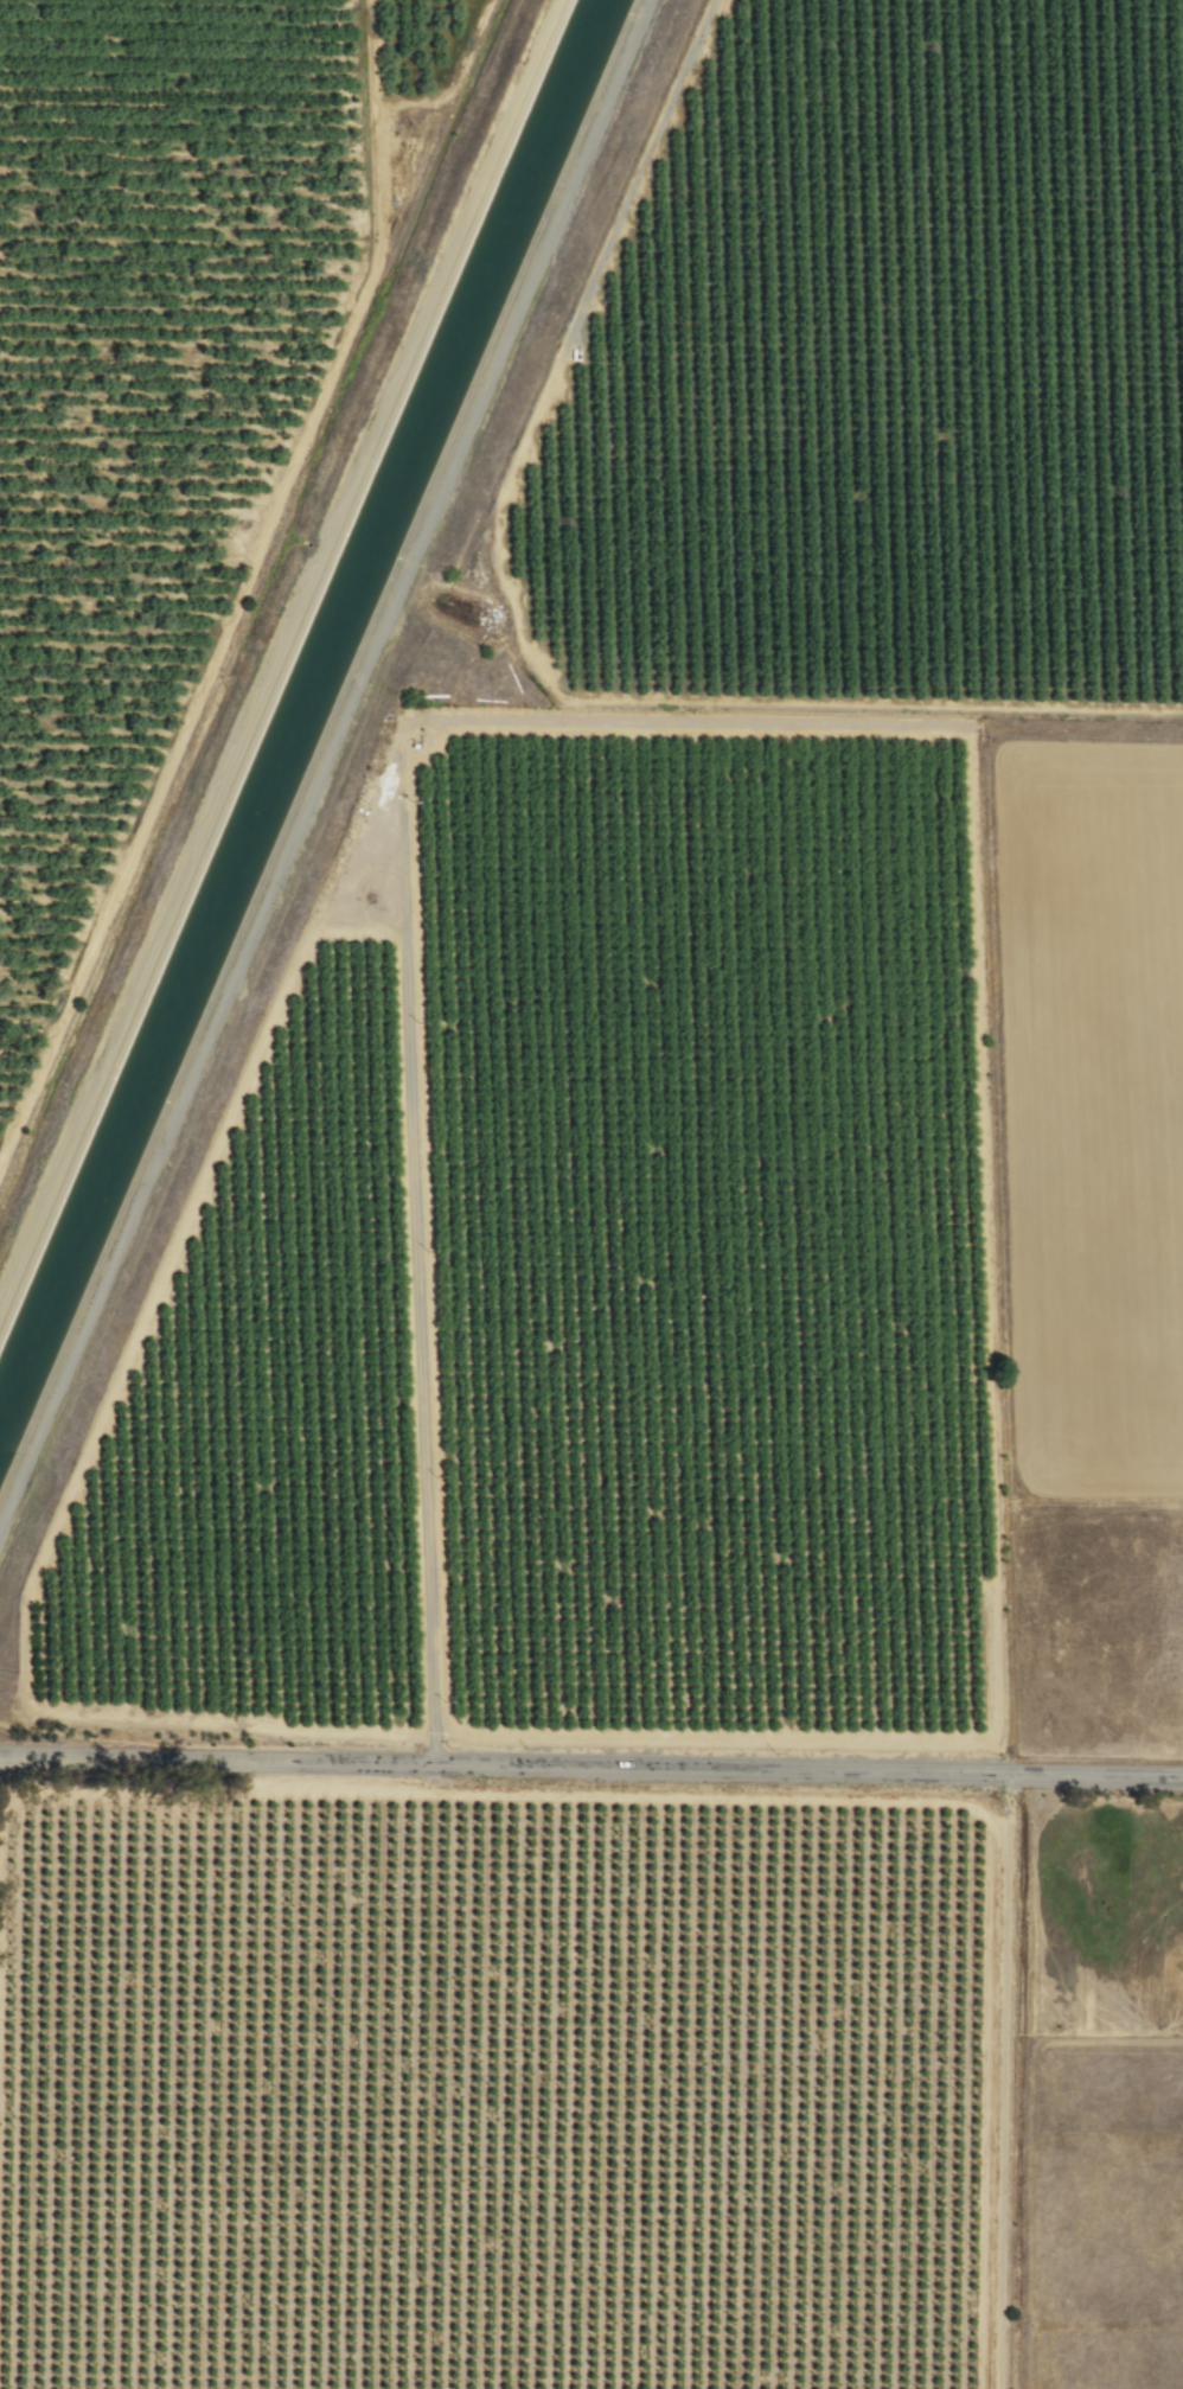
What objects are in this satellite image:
road: (591, 1767)

